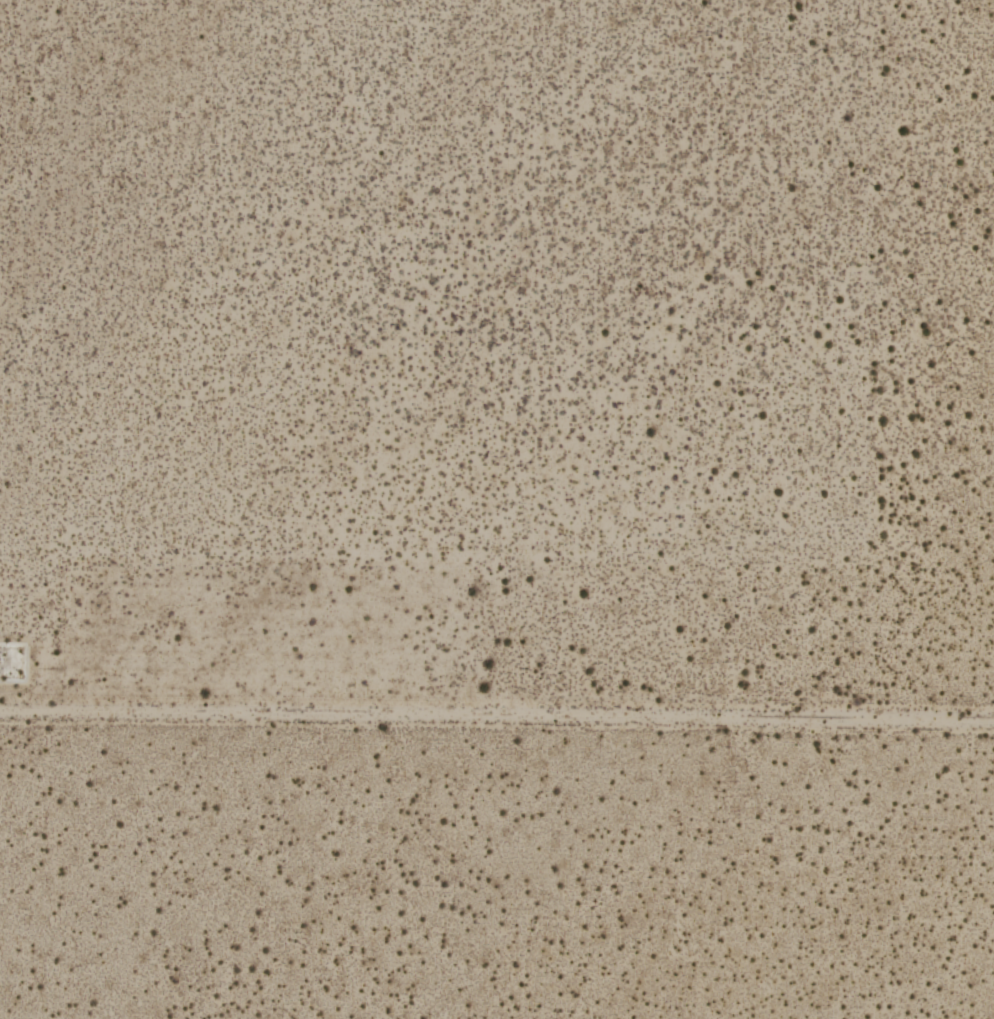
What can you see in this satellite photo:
airport: (497, 509)

